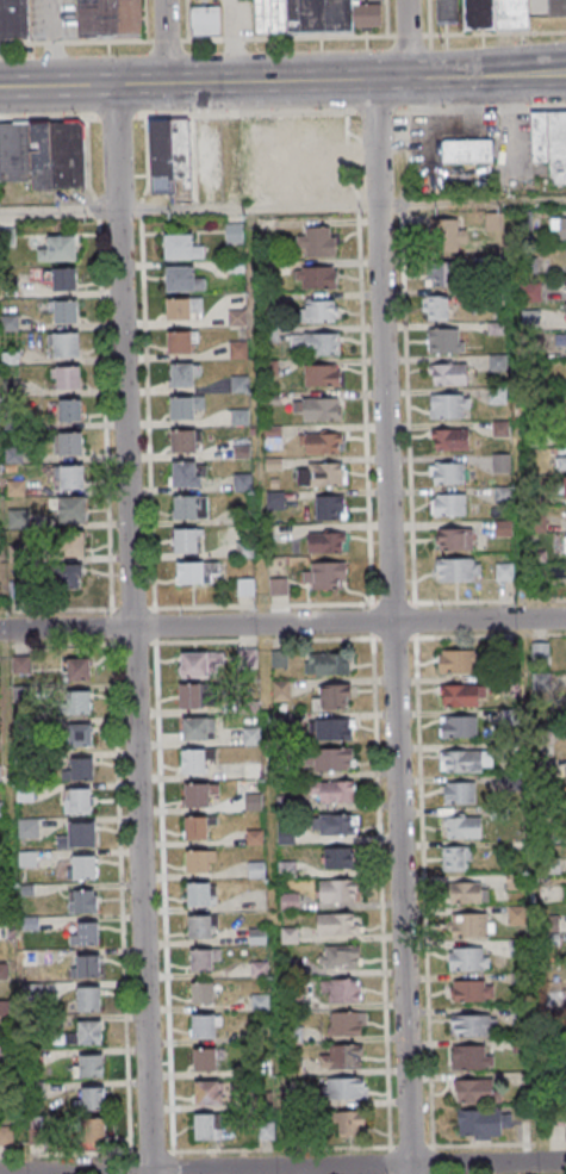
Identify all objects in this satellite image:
building: (556, 7)
building: (484, 13)
building: (313, 15)
building: (108, 18)
building: (14, 19)
building: (206, 20)
road: (493, 32)
road: (408, 35)
road: (288, 37)
road: (166, 39)
road: (406, 39)
road: (74, 41)
road: (164, 41)
road: (52, 43)
road: (282, 81)
building: (549, 142)
building: (467, 150)
building: (44, 154)
building: (169, 155)
building: (0, 197)
road: (282, 207)
building: (559, 226)
building: (452, 234)
building: (316, 241)
building: (181, 246)
building: (58, 249)
building: (439, 274)
building: (317, 277)
building: (61, 279)
building: (182, 279)
building: (440, 308)
building: (184, 309)
building: (321, 310)
building: (66, 312)
building: (236, 317)
building: (446, 340)
building: (182, 341)
building: (564, 341)
building: (316, 343)
building: (66, 346)
building: (238, 349)
building: (185, 374)
building: (322, 374)
building: (448, 374)
building: (67, 378)
building: (449, 405)
building: (185, 406)
building: (317, 409)
building: (69, 410)
building: (272, 437)
building: (450, 439)
building: (184, 441)
building: (321, 442)
building: (70, 443)
building: (500, 462)
building: (561, 462)
building: (448, 472)
building: (186, 473)
building: (322, 473)
building: (69, 477)
building: (564, 487)
building: (448, 504)
building: (189, 507)
building: (330, 507)
building: (68, 509)
building: (454, 539)
building: (187, 540)
building: (69, 542)
building: (325, 542)
building: (458, 570)
building: (195, 572)
building: (504, 572)
building: (324, 576)
building: (67, 577)
building: (245, 586)
building: (279, 586)
road: (282, 623)
road: (391, 626)
road: (131, 629)
building: (540, 652)
building: (458, 660)
building: (200, 664)
building: (326, 664)
building: (23, 666)
building: (77, 671)
road: (524, 689)
building: (281, 690)
road: (265, 691)
building: (460, 695)
building: (189, 696)
building: (332, 697)
building: (79, 703)
building: (459, 726)
building: (197, 729)
building: (334, 729)
building: (251, 735)
building: (79, 737)
building: (465, 758)
building: (334, 759)
building: (193, 763)
building: (81, 769)
building: (331, 793)
building: (459, 793)
building: (197, 796)
building: (77, 801)
building: (0, 809)
building: (336, 824)
building: (464, 826)
building: (27, 827)
building: (199, 828)
building: (79, 836)
building: (338, 857)
building: (456, 858)
building: (200, 861)
building: (83, 866)
building: (340, 892)
building: (468, 892)
building: (201, 894)
building: (82, 901)
building: (473, 924)
building: (337, 925)
building: (200, 926)
building: (83, 933)
building: (340, 957)
building: (469, 958)
building: (203, 961)
building: (86, 965)
building: (473, 989)
building: (341, 992)
building: (203, 993)
building: (88, 999)
building: (260, 1002)
building: (347, 1024)
building: (473, 1025)
building: (204, 1026)
building: (86, 1033)
building: (342, 1056)
building: (471, 1057)
building: (205, 1060)
building: (91, 1066)
building: (297, 1067)
building: (347, 1089)
building: (209, 1092)
building: (473, 1092)
building: (92, 1098)
building: (346, 1123)
building: (483, 1124)
building: (207, 1126)
building: (265, 1130)
building: (93, 1131)
road: (284, 1167)

